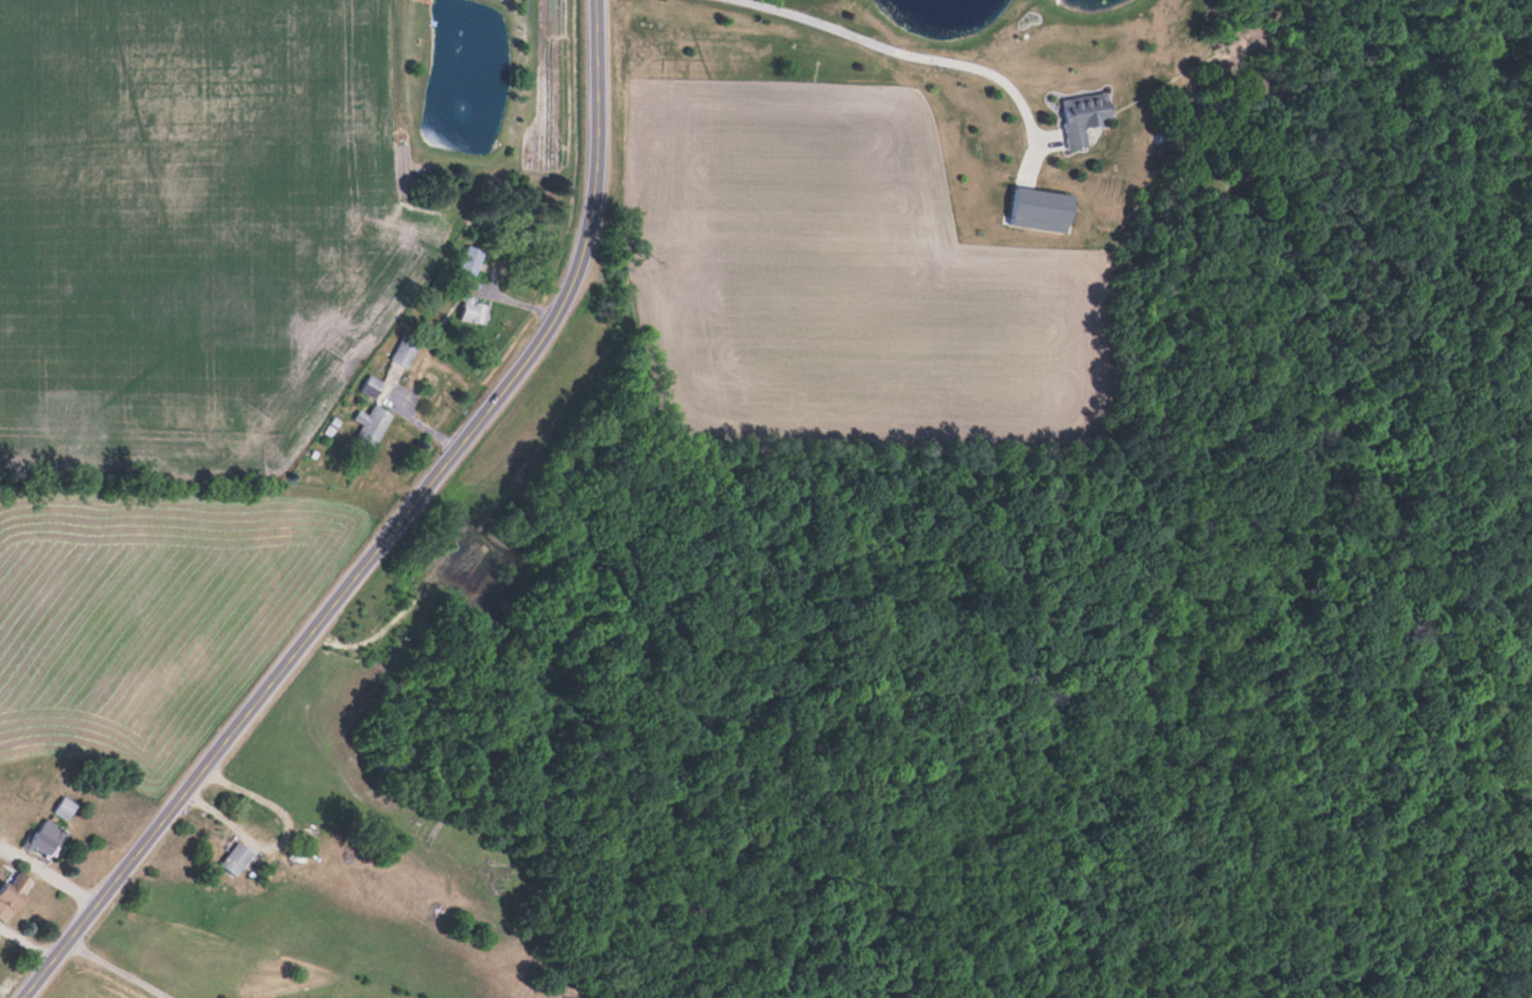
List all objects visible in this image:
road: (913, 50)
building: (1082, 115)
road: (590, 184)
building: (471, 260)
building: (473, 309)
building: (405, 349)
building: (372, 385)
building: (372, 423)
road: (270, 676)
building: (64, 808)
road: (286, 837)
building: (46, 838)
building: (236, 858)
road: (47, 872)
building: (15, 891)
road: (25, 940)
road: (116, 968)

